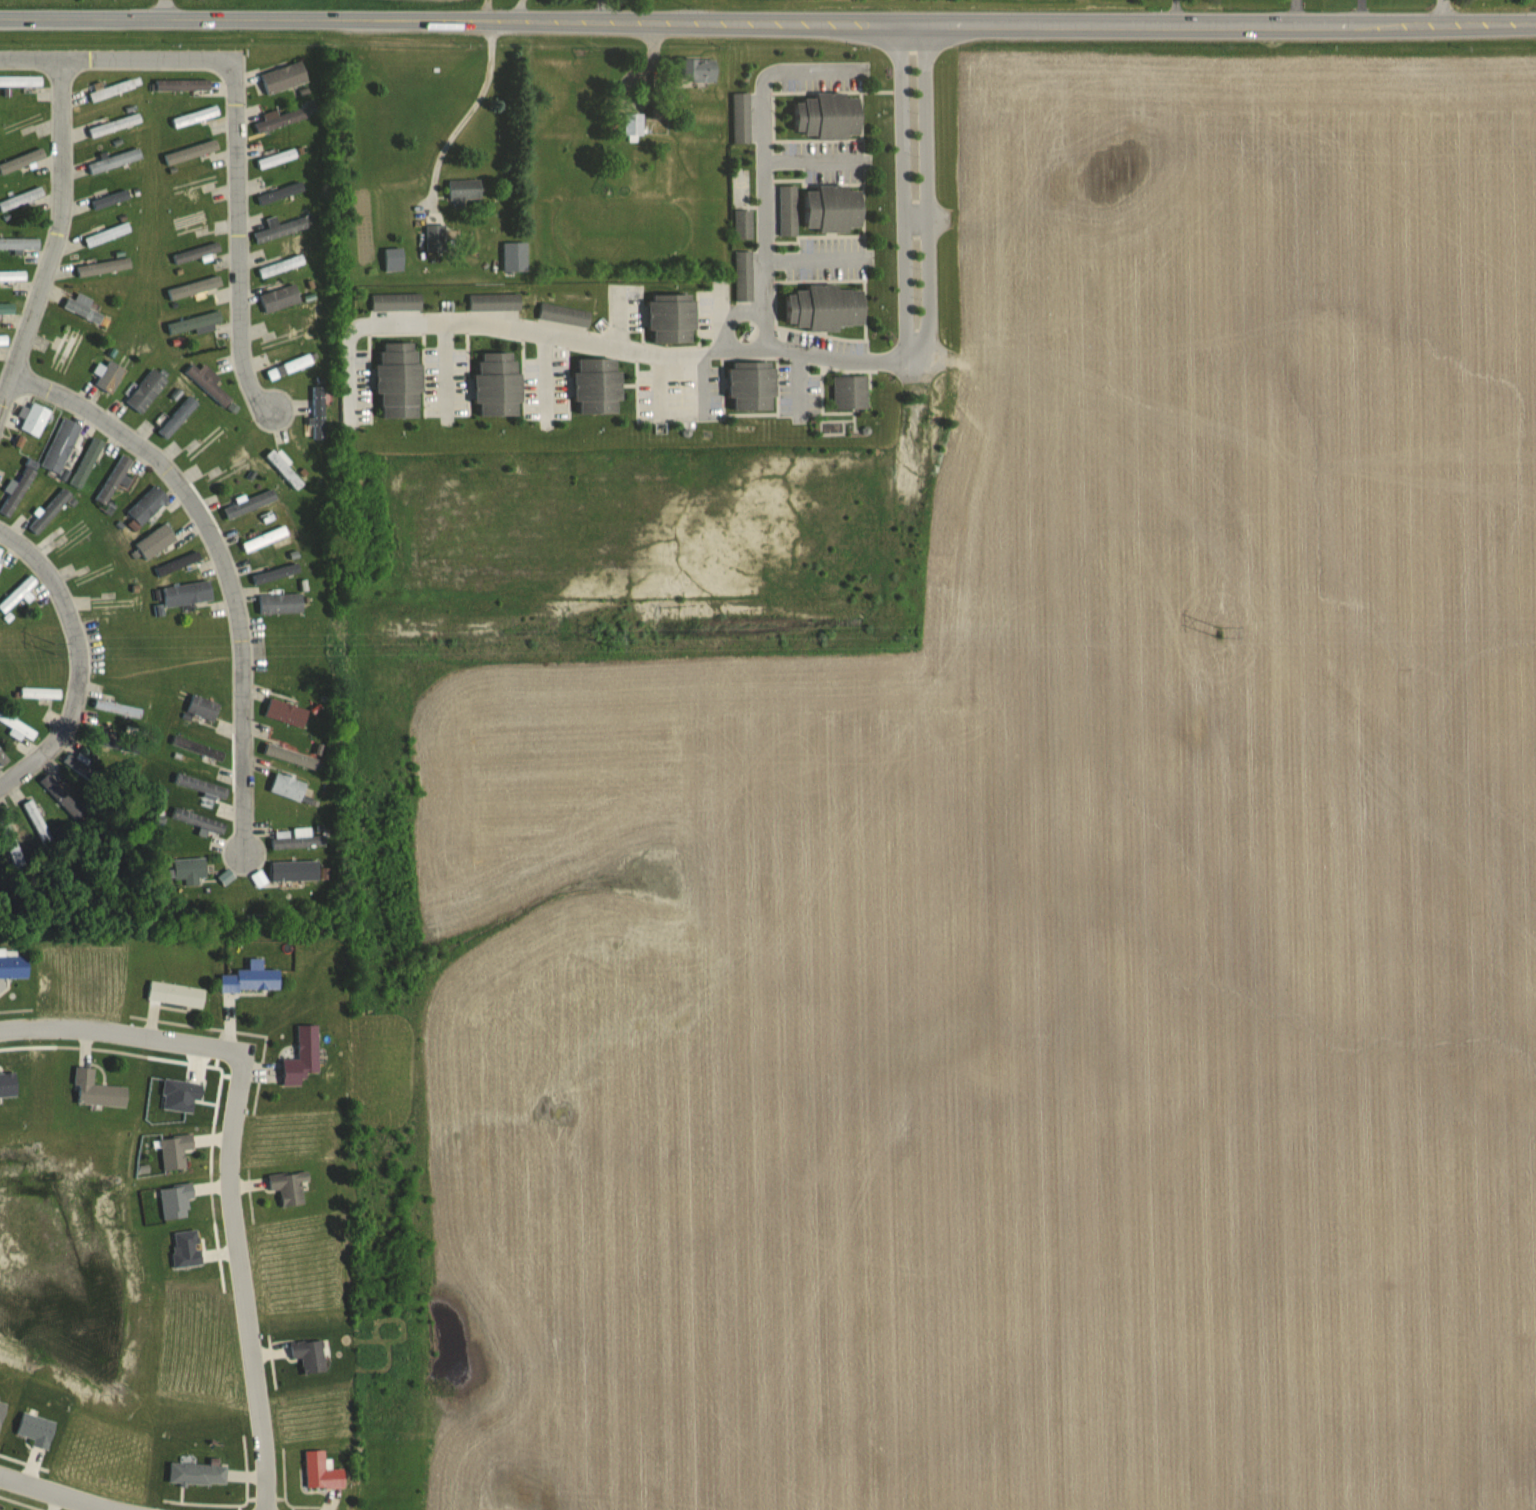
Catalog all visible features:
road: (1440, 11)
road: (768, 21)
building: (700, 71)
building: (283, 78)
building: (21, 80)
building: (182, 84)
building: (111, 89)
road: (479, 107)
building: (741, 117)
building: (828, 117)
building: (282, 118)
road: (236, 123)
building: (114, 124)
building: (633, 124)
building: (191, 151)
road: (810, 153)
road: (765, 159)
building: (21, 160)
building: (114, 160)
building: (464, 189)
building: (281, 193)
building: (115, 196)
building: (21, 197)
building: (834, 209)
building: (787, 210)
building: (191, 222)
building: (743, 223)
building: (280, 229)
building: (107, 233)
building: (435, 238)
building: (19, 242)
road: (54, 243)
road: (815, 249)
building: (514, 257)
building: (393, 260)
building: (744, 276)
building: (279, 298)
building: (396, 302)
building: (494, 302)
building: (6, 307)
building: (83, 308)
building: (824, 308)
building: (563, 314)
building: (672, 321)
building: (67, 342)
road: (746, 342)
road: (447, 362)
building: (289, 367)
road: (544, 368)
building: (109, 376)
building: (400, 378)
building: (208, 383)
building: (499, 383)
building: (598, 385)
building: (753, 385)
building: (147, 389)
building: (850, 391)
building: (317, 412)
building: (177, 417)
building: (35, 418)
building: (206, 441)
building: (61, 445)
building: (284, 468)
building: (115, 479)
building: (17, 490)
building: (249, 502)
building: (147, 505)
building: (49, 511)
road: (223, 566)
road: (53, 583)
building: (18, 593)
building: (187, 593)
building: (117, 603)
building: (280, 603)
building: (40, 692)
building: (202, 707)
building: (118, 708)
building: (286, 712)
road: (63, 734)
building: (122, 745)
building: (2, 758)
building: (81, 767)
building: (200, 785)
building: (288, 786)
building: (61, 796)
building: (36, 822)
building: (296, 838)
building: (11, 844)
building: (190, 868)
building: (294, 871)
building: (13, 965)
building: (251, 978)
building: (176, 994)
building: (302, 1057)
building: (97, 1091)
building: (174, 1151)
road: (232, 1160)
building: (288, 1187)
building: (175, 1201)
building: (309, 1355)
building: (321, 1471)
building: (197, 1473)
road: (57, 1493)

